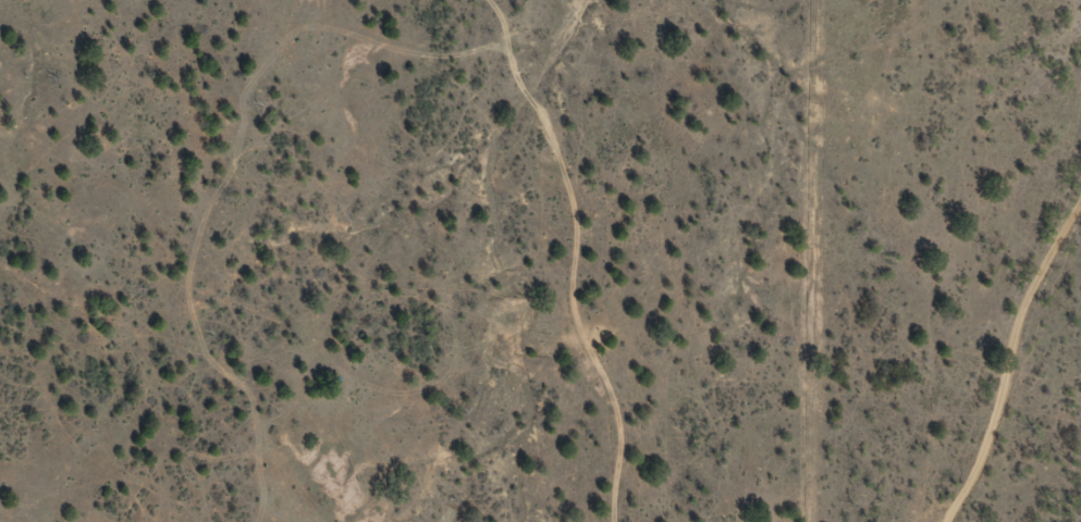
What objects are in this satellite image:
road: (1014, 389)

